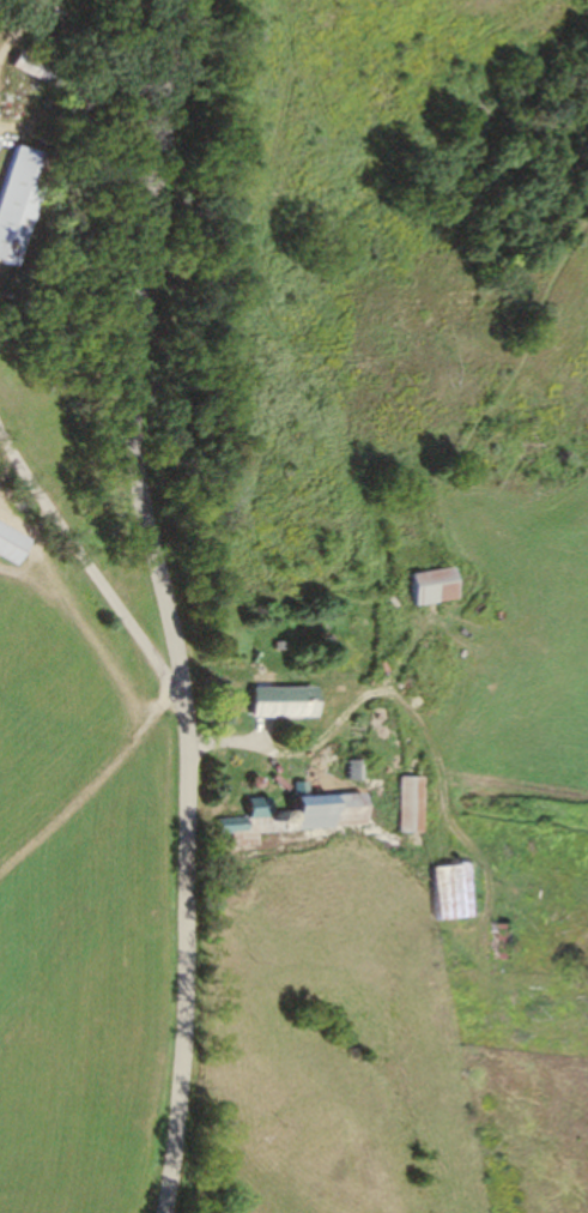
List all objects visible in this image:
building: (28, 67)
building: (16, 199)
building: (8, 548)
building: (424, 589)
road: (101, 598)
road: (162, 604)
building: (280, 704)
building: (410, 805)
building: (328, 811)
building: (231, 826)
building: (455, 893)

